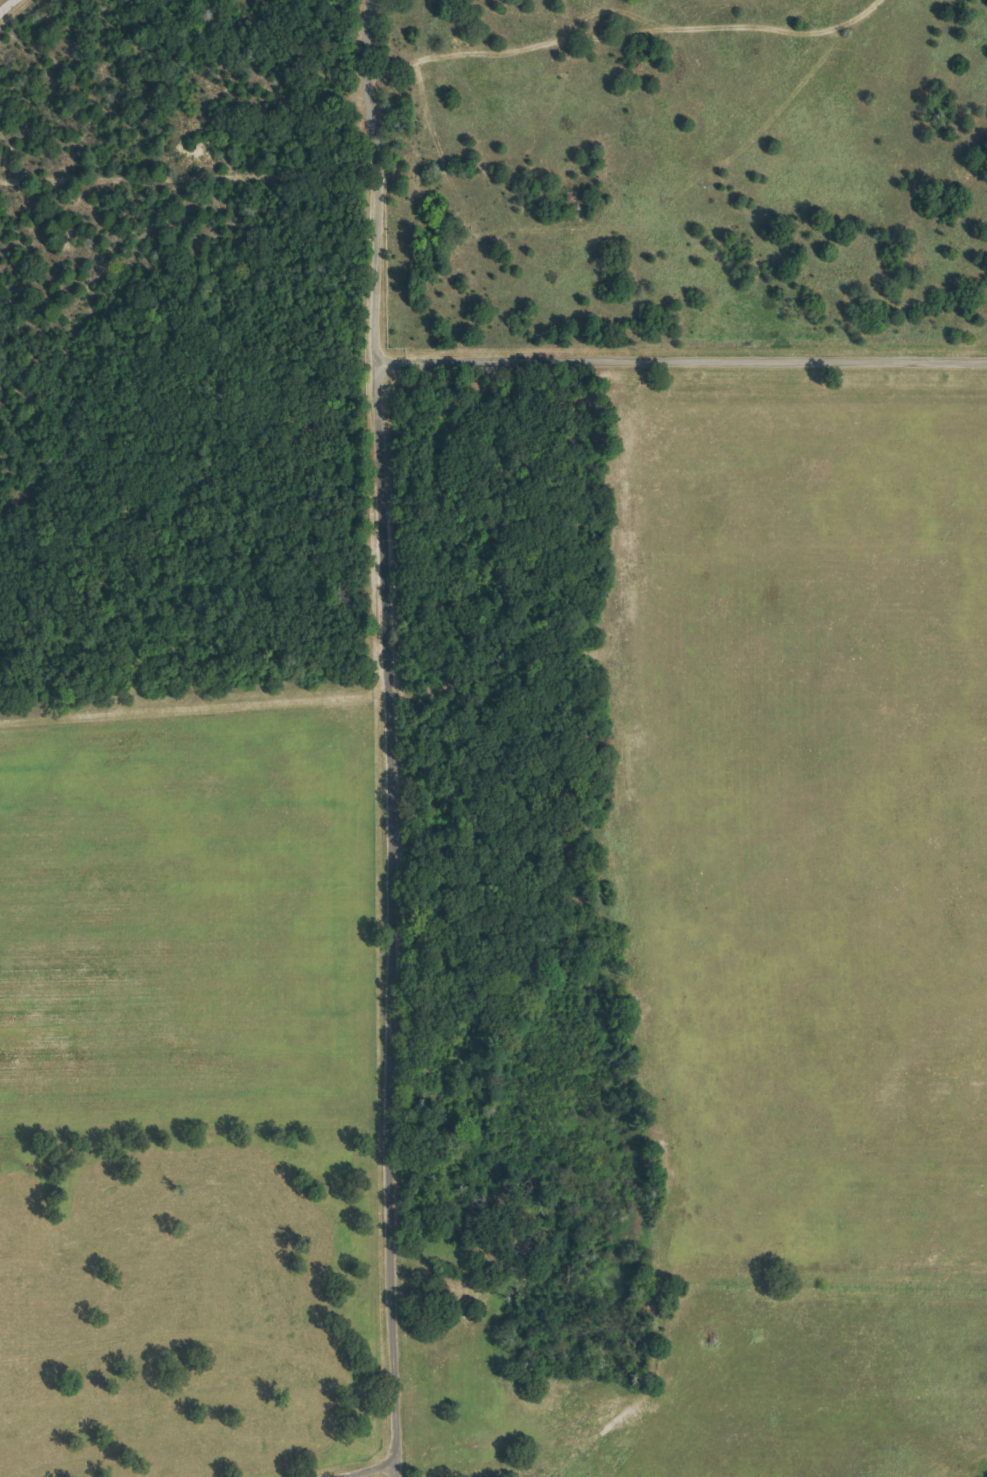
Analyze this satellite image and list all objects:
road: (5, 4)
road: (678, 362)
road: (386, 729)
road: (369, 1469)

